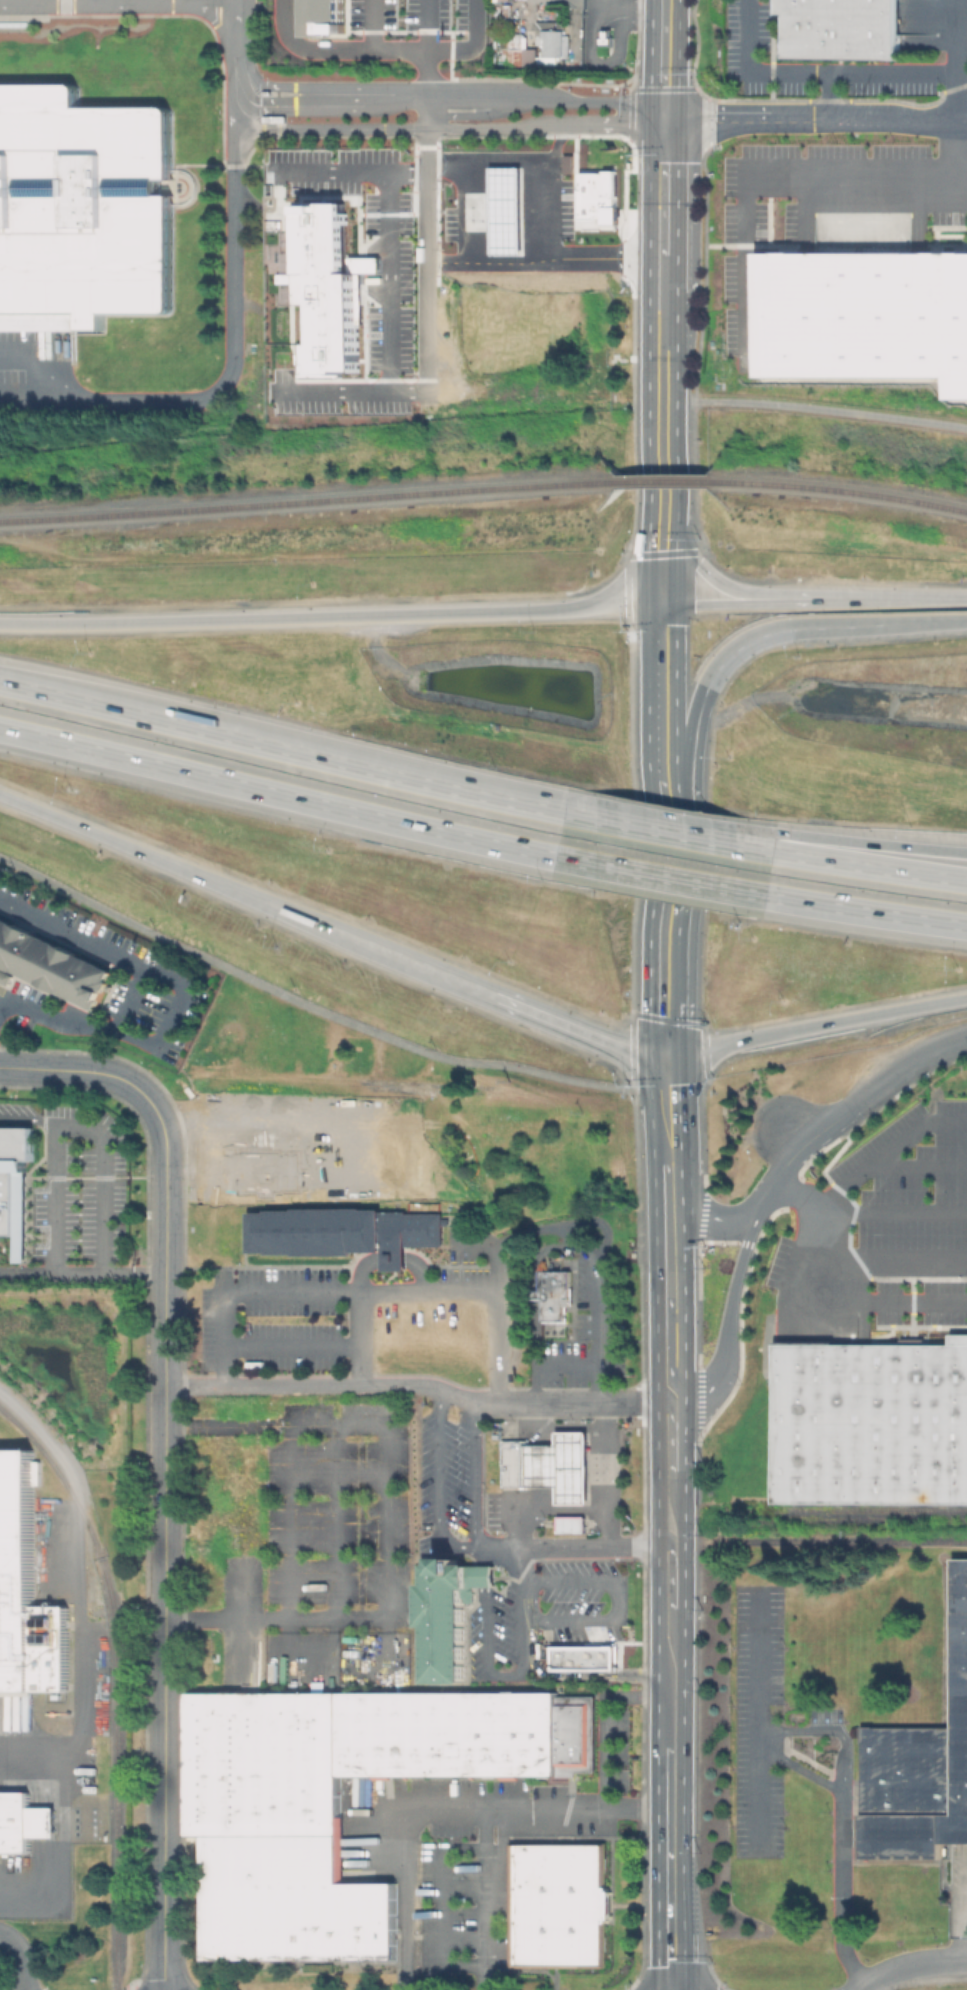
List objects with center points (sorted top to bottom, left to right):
road: (232, 0)
road: (81, 1)
road: (184, 1)
road: (63, 7)
parking lot: (119, 8)
building: (323, 20)
road: (372, 24)
building: (839, 28)
building: (555, 41)
road: (468, 44)
road: (359, 49)
building: (517, 53)
road: (663, 56)
road: (425, 71)
road: (817, 73)
road: (962, 89)
road: (334, 94)
road: (485, 94)
road: (707, 100)
road: (603, 103)
road: (428, 105)
traffic signals: (663, 114)
road: (476, 116)
road: (872, 117)
road: (628, 125)
road: (334, 129)
road: (510, 129)
road: (957, 155)
road: (507, 159)
road: (351, 172)
road: (663, 184)
building: (601, 197)
road: (772, 198)
building: (81, 208)
road: (544, 209)
road: (473, 210)
building: (507, 211)
road: (724, 244)
road: (545, 259)
road: (662, 273)
road: (705, 274)
road: (390, 281)
building: (322, 289)
building: (865, 318)
road: (428, 329)
road: (231, 372)
road: (662, 393)
road: (831, 409)
road: (692, 476)
railway: (663, 480)
railway: (842, 489)
railway: (304, 502)
road: (661, 523)
road: (629, 555)
road: (692, 559)
road: (661, 580)
road: (888, 598)
road: (782, 599)
road: (708, 605)
traffic signals: (661, 606)
road: (330, 618)
road: (926, 623)
road: (699, 710)
road: (308, 754)
road: (661, 769)
road: (307, 799)
road: (632, 817)
road: (667, 832)
road: (842, 846)
road: (841, 860)
road: (168, 864)
road: (665, 877)
road: (840, 905)
road: (376, 948)
building: (52, 964)
building: (4, 977)
road: (662, 994)
road: (131, 999)
road: (186, 1004)
road: (306, 1005)
road: (538, 1014)
road: (679, 1021)
road: (814, 1025)
road: (633, 1052)
traffic signals: (663, 1056)
road: (905, 1068)
road: (107, 1074)
road: (664, 1095)
road: (649, 1112)
road: (792, 1136)
road: (796, 1150)
road: (889, 1159)
road: (684, 1163)
road: (108, 1180)
building: (16, 1182)
road: (894, 1216)
road: (719, 1218)
road: (55, 1220)
building: (346, 1231)
road: (586, 1250)
road: (669, 1262)
road: (829, 1291)
road: (370, 1293)
building: (557, 1297)
road: (729, 1305)
road: (367, 1338)
road: (552, 1366)
road: (412, 1384)
building: (871, 1423)
road: (684, 1427)
road: (657, 1438)
building: (547, 1465)
road: (671, 1465)
road: (474, 1477)
road: (438, 1489)
railway: (876, 1520)
road: (392, 1522)
building: (569, 1523)
railway: (845, 1540)
road: (572, 1547)
road: (522, 1564)
road: (165, 1572)
building: (18, 1574)
road: (672, 1597)
building: (446, 1615)
road: (612, 1616)
building: (53, 1654)
building: (582, 1657)
railway: (117, 1680)
parking lot: (755, 1718)
road: (757, 1718)
building: (577, 1734)
road: (603, 1754)
road: (799, 1769)
building: (921, 1773)
road: (683, 1795)
building: (329, 1803)
road: (420, 1812)
road: (839, 1819)
building: (23, 1822)
road: (658, 1868)
road: (483, 1900)
road: (958, 1903)
building: (557, 1904)
road: (957, 1937)
road: (21, 1955)
road: (683, 1962)
road: (907, 1964)

